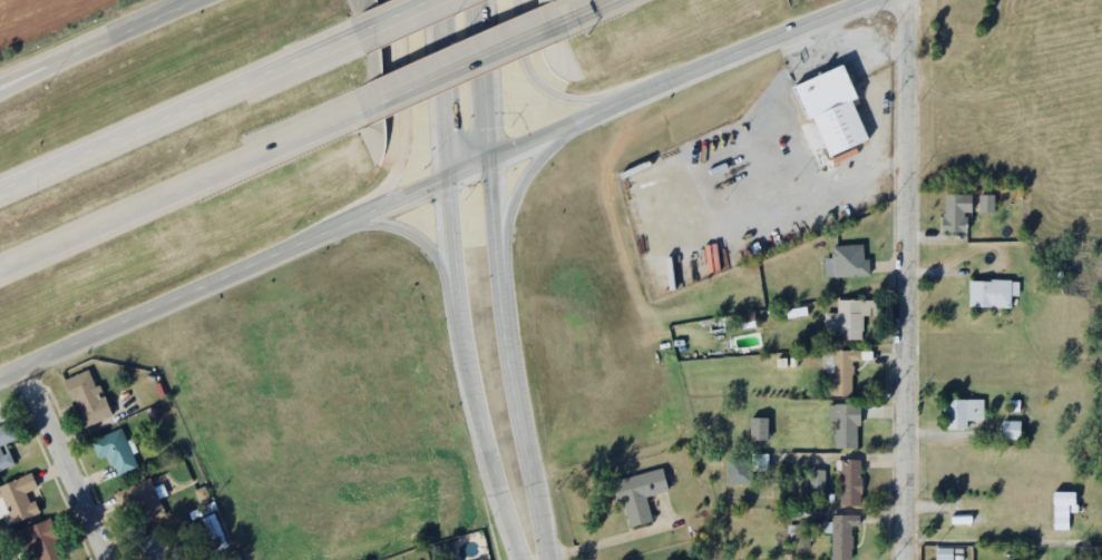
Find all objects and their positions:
building: (358, 3)
road: (584, 11)
road: (396, 17)
road: (116, 33)
road: (459, 66)
road: (19, 75)
road: (19, 77)
road: (484, 80)
road: (542, 85)
road: (441, 90)
building: (838, 98)
road: (178, 112)
road: (404, 119)
traffic signals: (489, 161)
road: (521, 179)
traffic signals: (447, 181)
road: (431, 188)
road: (182, 189)
building: (988, 194)
building: (958, 203)
building: (985, 203)
road: (417, 235)
building: (851, 252)
road: (907, 279)
building: (993, 284)
building: (851, 310)
building: (843, 360)
road: (506, 361)
road: (469, 374)
building: (90, 393)
building: (963, 404)
building: (846, 414)
building: (762, 419)
building: (1012, 423)
building: (758, 429)
building: (9, 435)
building: (117, 444)
building: (747, 459)
road: (61, 465)
building: (852, 473)
building: (816, 481)
building: (642, 485)
building: (23, 490)
building: (145, 494)
building: (843, 527)
building: (803, 528)
building: (48, 533)
building: (164, 542)
building: (634, 558)

